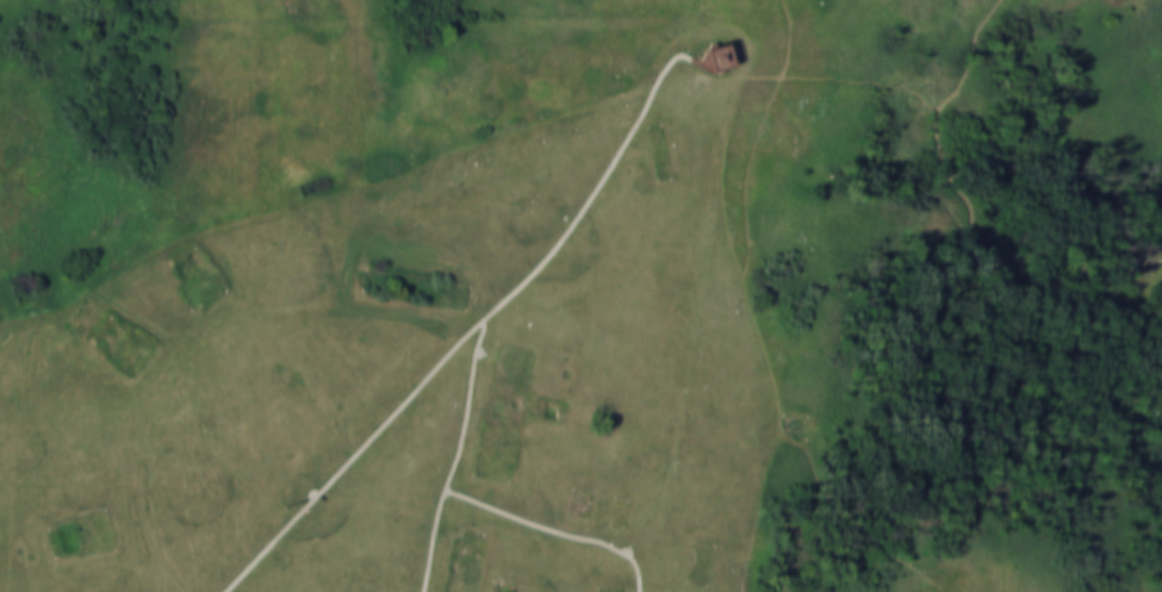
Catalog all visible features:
building: (707, 56)
park: (580, 295)
road: (193, 330)
road: (468, 330)
road: (465, 403)
road: (503, 511)

